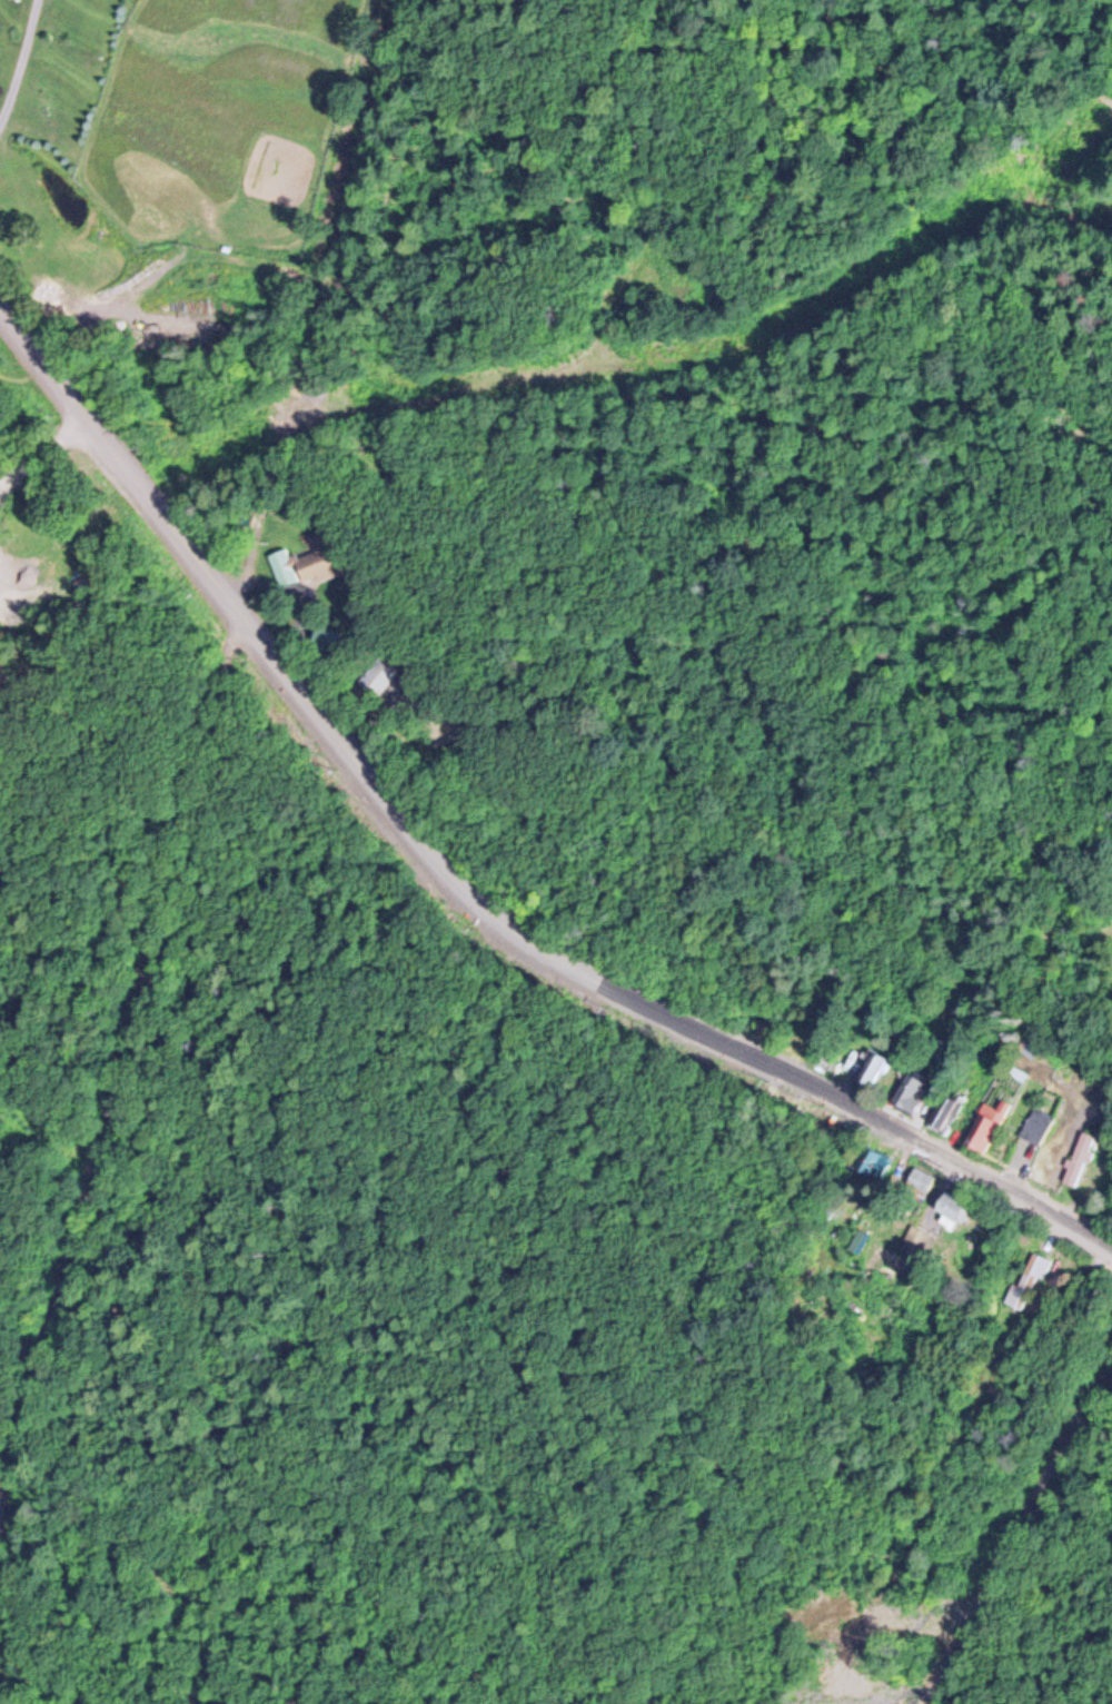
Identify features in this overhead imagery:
road: (14, 46)
road: (112, 304)
building: (329, 557)
building: (286, 567)
road: (294, 690)
building: (868, 1068)
building: (910, 1094)
road: (881, 1106)
building: (945, 1111)
building: (1039, 1125)
building: (984, 1129)
building: (873, 1159)
building: (1080, 1159)
building: (920, 1183)
building: (951, 1209)
building: (1026, 1280)
road: (1015, 1552)

